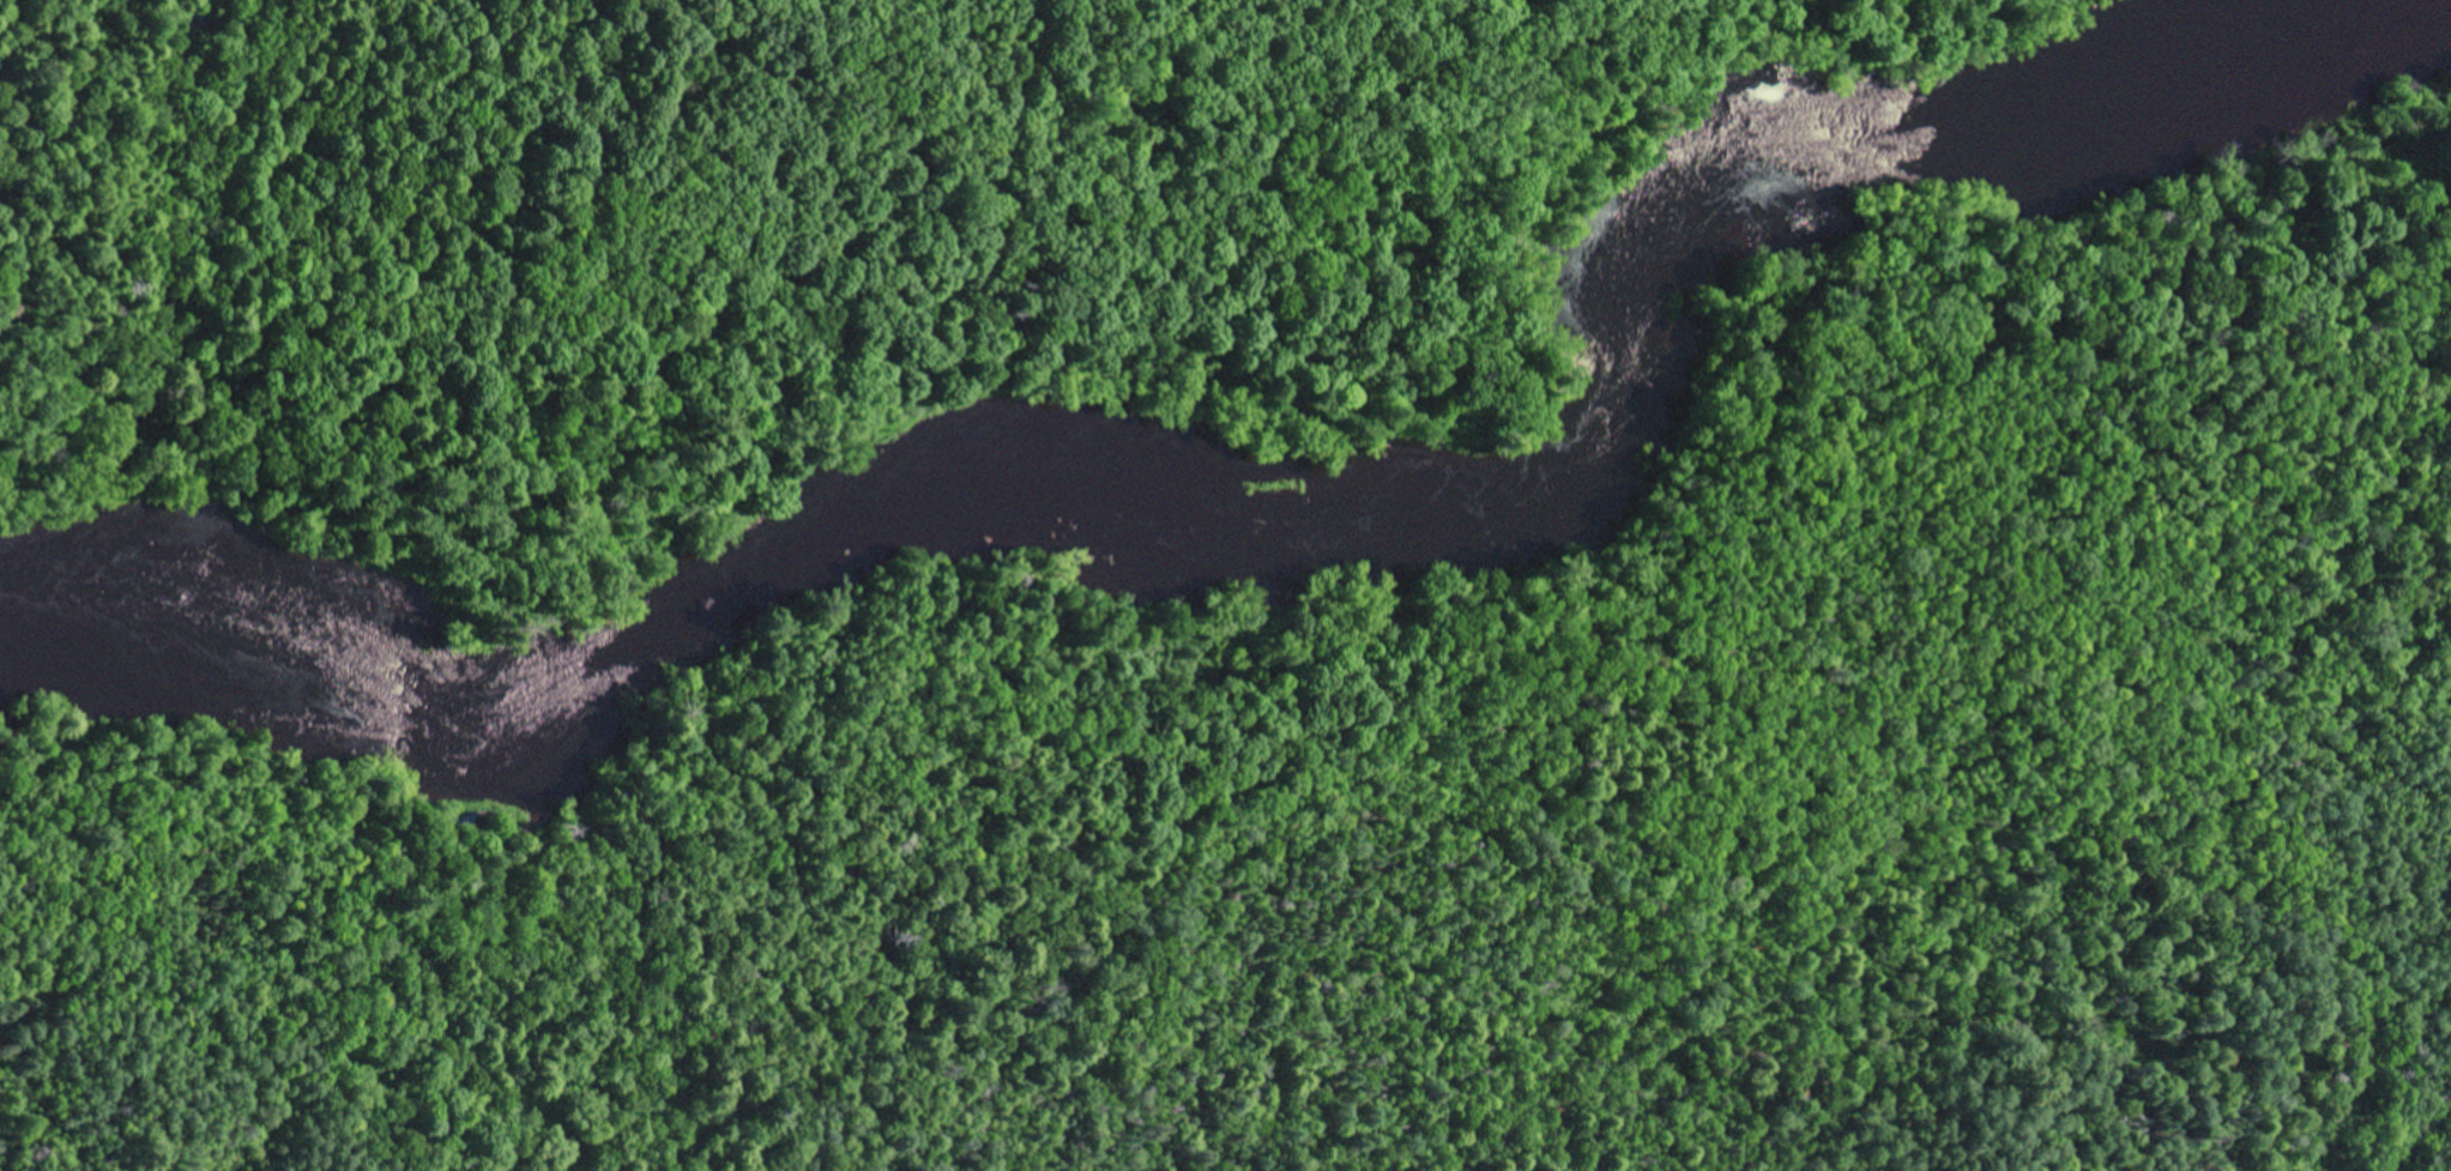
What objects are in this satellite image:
river: (1248, 519)

